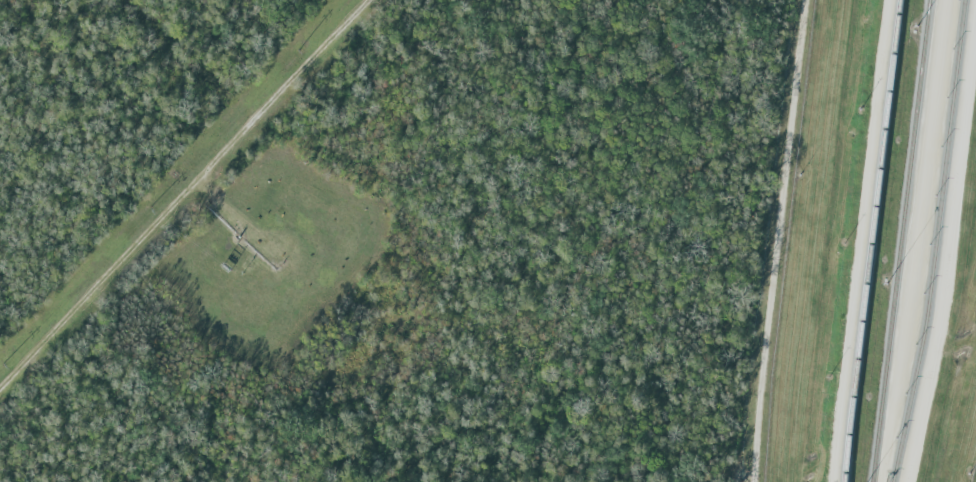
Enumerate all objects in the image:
road: (182, 193)
road: (776, 240)
railway: (870, 240)
railway: (898, 241)
road: (948, 254)

